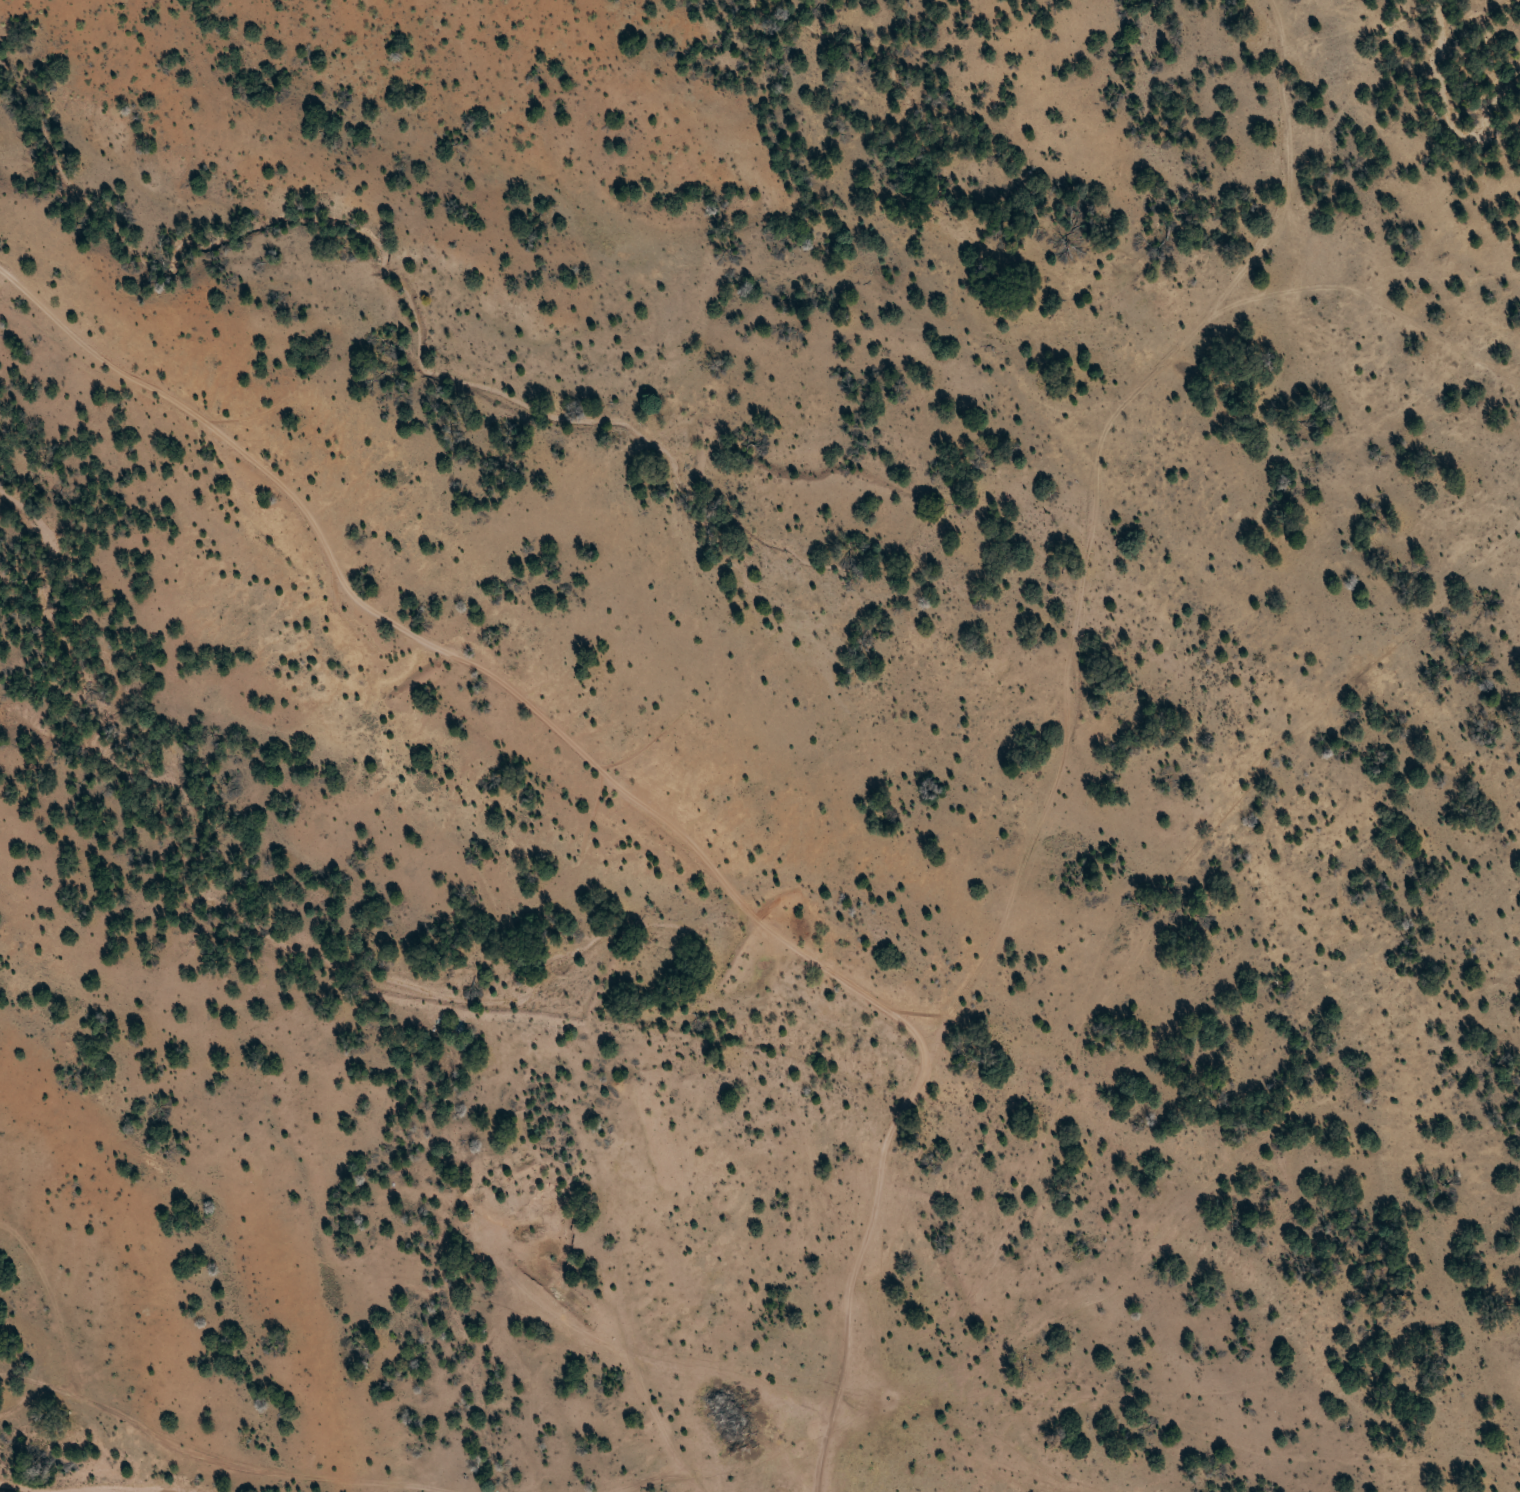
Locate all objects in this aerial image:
road: (448, 678)
road: (1059, 743)

